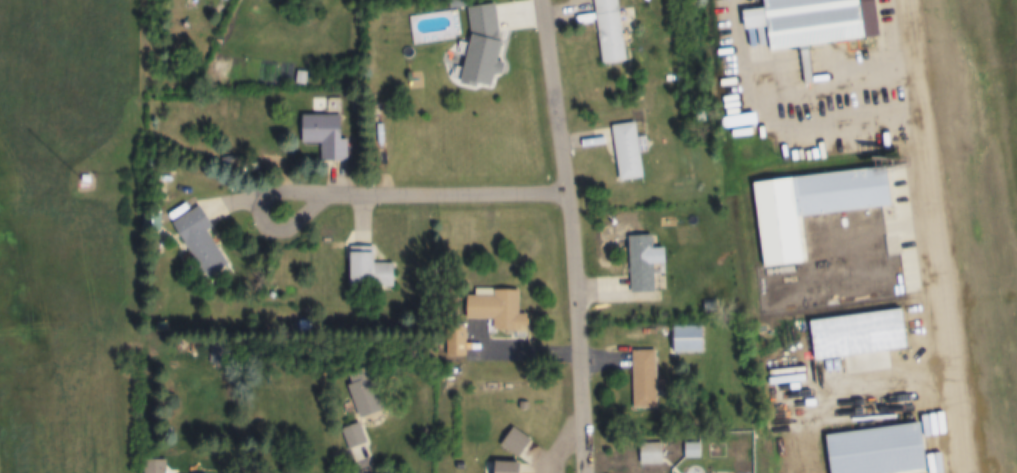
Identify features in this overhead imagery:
building: (809, 23)
building: (607, 32)
building: (480, 49)
road: (798, 79)
building: (324, 137)
building: (625, 153)
road: (424, 189)
building: (837, 194)
road: (243, 196)
road: (850, 229)
road: (564, 236)
road: (941, 236)
building: (198, 243)
building: (639, 265)
building: (366, 270)
building: (496, 311)
building: (854, 336)
building: (684, 341)
building: (455, 342)
building: (219, 356)
road: (872, 374)
building: (642, 380)
building: (362, 397)
building: (354, 436)
building: (514, 443)
building: (874, 451)
road: (359, 455)
building: (649, 455)
building: (153, 467)
building: (500, 468)

